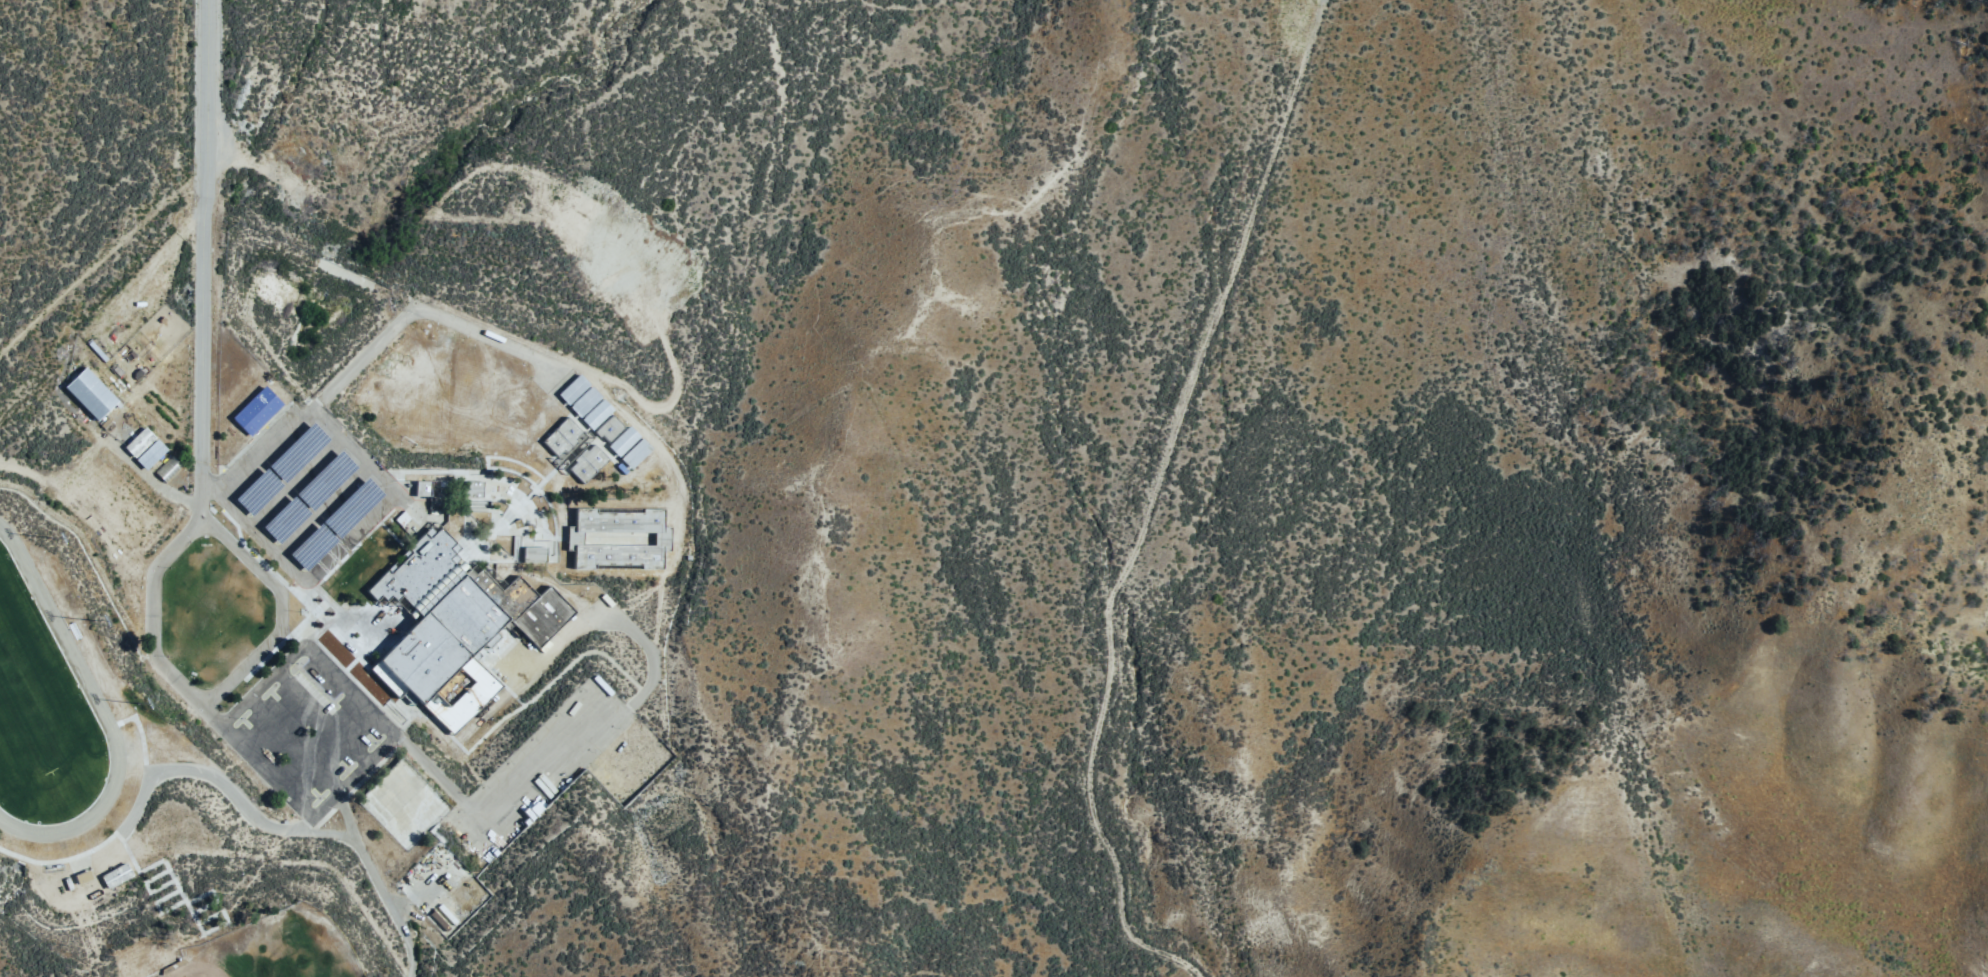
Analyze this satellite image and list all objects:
road: (203, 387)
building: (576, 389)
building: (92, 393)
building: (588, 401)
building: (259, 411)
building: (600, 414)
building: (612, 428)
building: (564, 437)
building: (626, 441)
building: (138, 442)
road: (353, 452)
building: (150, 453)
building: (639, 454)
road: (267, 455)
building: (591, 464)
road: (151, 482)
road: (295, 483)
building: (475, 489)
building: (436, 494)
road: (1152, 507)
road: (323, 511)
building: (401, 519)
road: (254, 531)
road: (350, 538)
building: (621, 539)
building: (535, 553)
building: (458, 625)
track: (58, 631)
road: (154, 632)
road: (265, 686)
road: (351, 690)
park: (33, 702)
road: (326, 715)
road: (142, 744)
road: (298, 744)
road: (549, 757)
road: (365, 766)
road: (269, 772)
road: (340, 805)
road: (287, 830)
road: (63, 859)
park: (277, 952)

